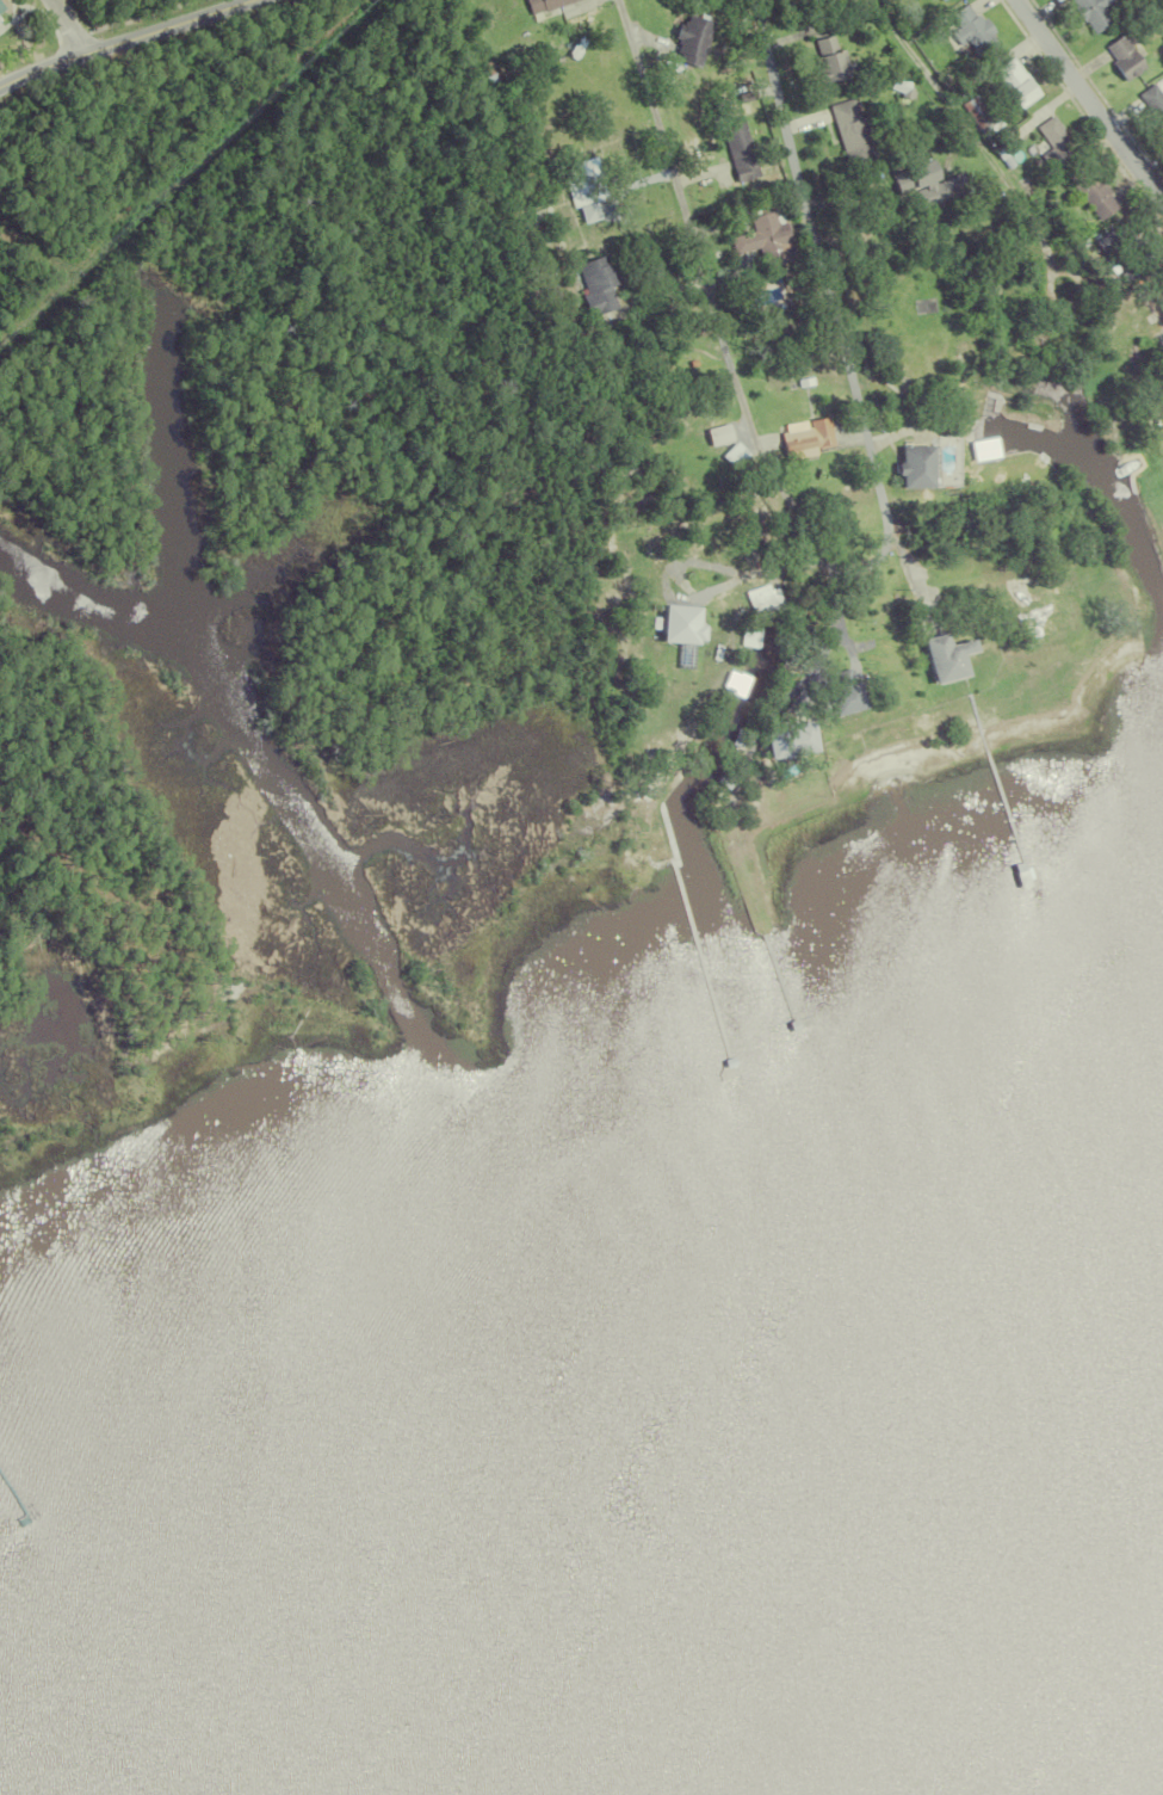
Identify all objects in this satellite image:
building: (940, 0)
building: (538, 4)
building: (0, 7)
building: (1091, 12)
park: (58, 19)
road: (67, 27)
building: (969, 27)
building: (688, 36)
road: (125, 42)
building: (516, 45)
building: (1119, 55)
building: (827, 58)
building: (1010, 80)
building: (742, 94)
building: (1151, 101)
road: (1089, 103)
building: (973, 110)
building: (847, 130)
road: (973, 140)
building: (1051, 141)
building: (997, 146)
building: (735, 147)
building: (581, 179)
building: (924, 180)
building: (1021, 183)
building: (1088, 189)
building: (876, 192)
building: (757, 197)
building: (536, 216)
building: (542, 234)
building: (761, 236)
building: (1115, 249)
road: (695, 253)
building: (1074, 253)
road: (818, 257)
building: (594, 282)
building: (539, 292)
building: (803, 378)
building: (803, 438)
building: (983, 449)
building: (730, 454)
building: (914, 467)
road: (841, 569)
building: (873, 587)
building: (765, 599)
building: (854, 610)
building: (679, 625)
road: (824, 635)
building: (944, 658)
building: (886, 667)
building: (842, 697)
building: (735, 736)
building: (785, 742)

